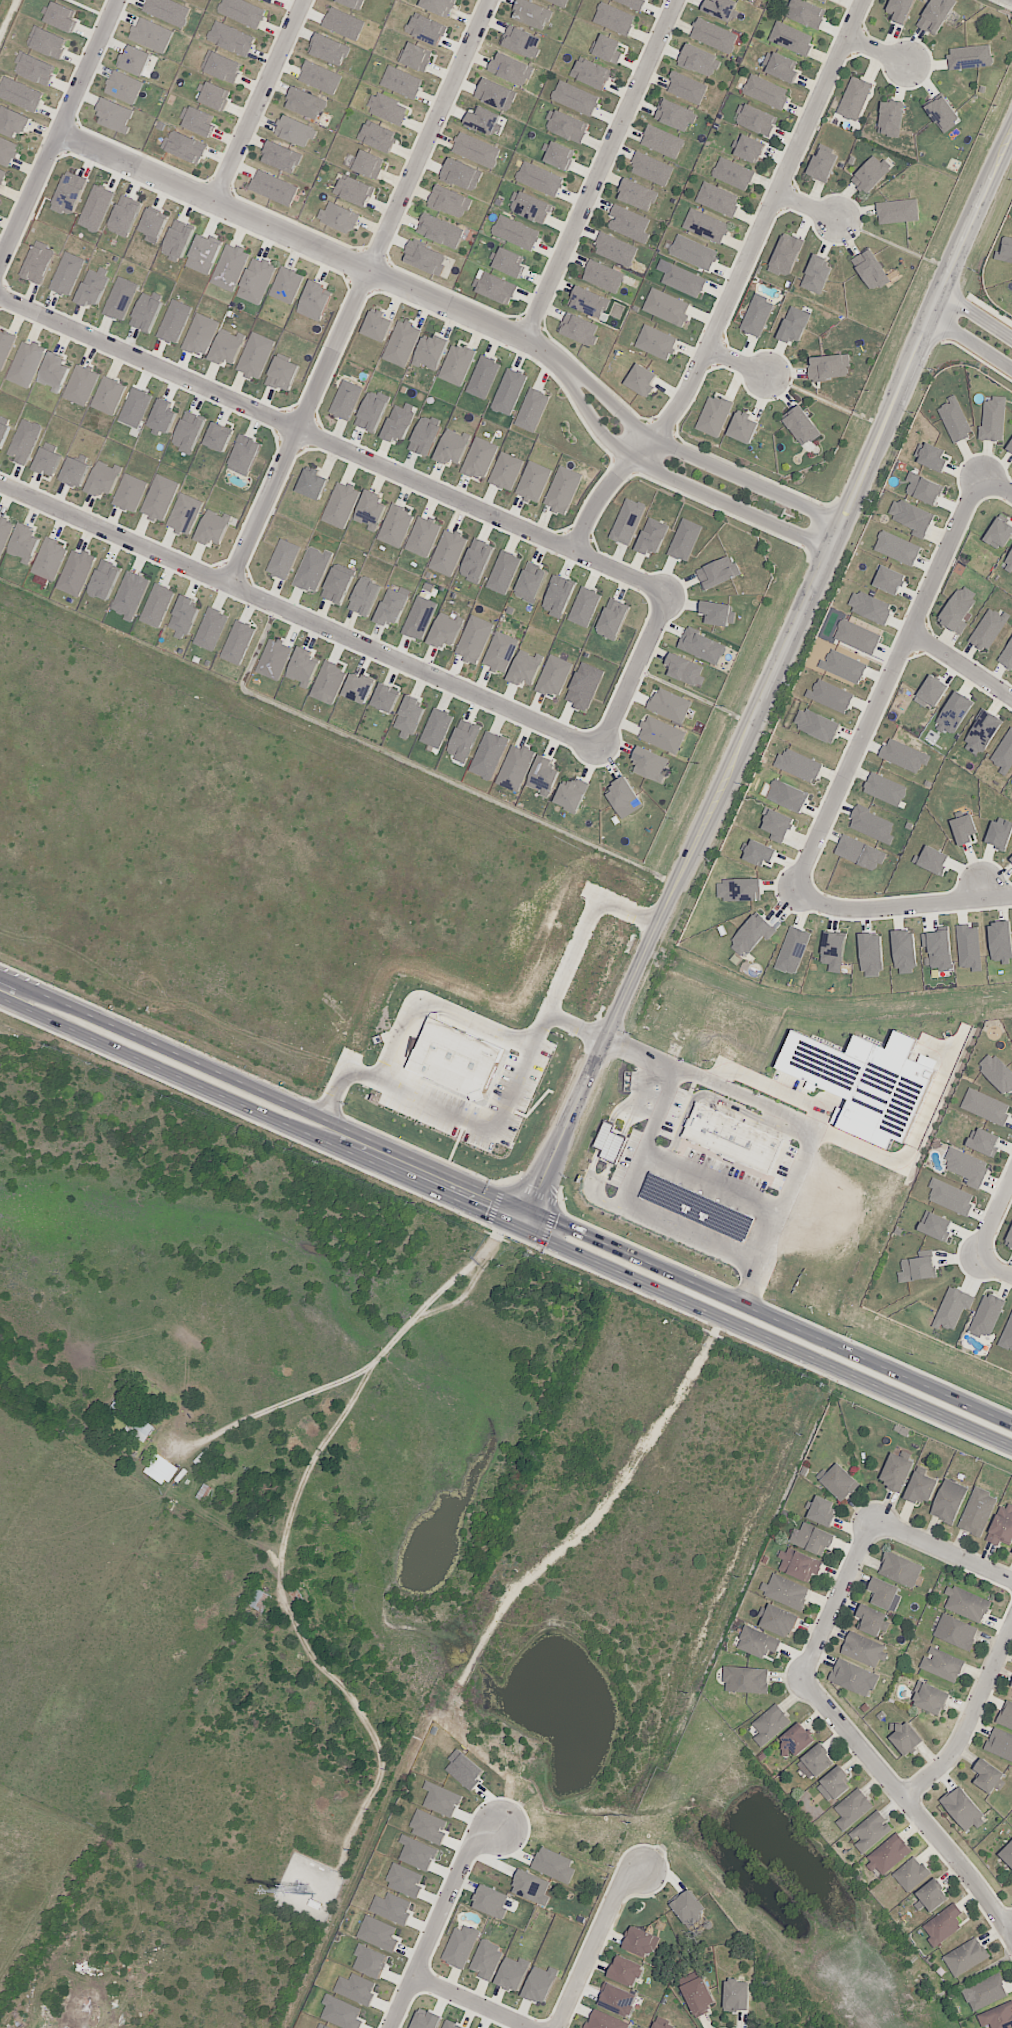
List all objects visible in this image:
building: (270, 0)
building: (827, 0)
building: (560, 2)
building: (352, 3)
building: (632, 3)
building: (438, 6)
building: (721, 8)
building: (167, 10)
building: (900, 10)
building: (242, 12)
building: (531, 13)
building: (806, 13)
building: (936, 15)
building: (60, 16)
building: (614, 18)
road: (9, 21)
building: (343, 23)
building: (426, 29)
building: (151, 34)
building: (714, 35)
building: (231, 38)
building: (791, 38)
building: (521, 41)
building: (47, 42)
building: (607, 48)
building: (328, 49)
road: (877, 51)
building: (416, 56)
building: (970, 57)
building: (134, 59)
building: (699, 61)
building: (221, 66)
building: (780, 66)
building: (34, 68)
building: (510, 69)
building: (591, 73)
building: (320, 77)
building: (401, 82)
building: (124, 86)
building: (686, 87)
building: (766, 91)
building: (20, 94)
building: (496, 94)
building: (214, 95)
building: (575, 98)
building: (854, 98)
road: (256, 100)
building: (305, 103)
building: (388, 108)
building: (943, 113)
building: (675, 114)
building: (114, 115)
building: (483, 118)
building: (890, 118)
building: (755, 119)
building: (198, 121)
building: (13, 122)
building: (566, 126)
building: (296, 131)
road: (59, 132)
building: (378, 136)
building: (662, 141)
building: (184, 146)
building: (476, 149)
building: (750, 149)
building: (7, 150)
building: (558, 155)
building: (281, 156)
building: (367, 164)
building: (822, 165)
building: (651, 168)
road: (600, 169)
building: (733, 173)
building: (461, 174)
building: (871, 174)
building: (2, 175)
building: (539, 178)
building: (273, 188)
building: (354, 190)
building: (70, 193)
building: (637, 194)
building: (718, 199)
building: (450, 201)
building: (530, 207)
road: (806, 207)
building: (96, 208)
building: (897, 211)
building: (124, 216)
building: (339, 217)
building: (153, 223)
building: (629, 223)
building: (706, 226)
building: (440, 230)
building: (515, 232)
building: (178, 240)
road: (317, 248)
building: (615, 249)
building: (1005, 250)
building: (693, 252)
building: (204, 254)
building: (786, 254)
building: (425, 257)
building: (507, 262)
building: (38, 263)
building: (230, 267)
building: (870, 269)
building: (67, 273)
building: (816, 274)
building: (603, 276)
building: (681, 279)
building: (256, 280)
building: (287, 285)
road: (733, 285)
building: (93, 286)
building: (492, 287)
road: (362, 292)
building: (120, 298)
building: (314, 300)
building: (588, 302)
building: (667, 307)
building: (146, 312)
building: (757, 315)
building: (174, 321)
building: (794, 325)
building: (377, 326)
road: (974, 328)
building: (578, 329)
building: (201, 334)
building: (656, 342)
building: (401, 343)
building: (227, 347)
building: (5, 348)
building: (431, 352)
building: (256, 355)
road: (736, 363)
building: (26, 364)
building: (456, 364)
building: (828, 367)
building: (54, 371)
building: (283, 373)
building: (483, 377)
building: (641, 380)
building: (81, 385)
building: (508, 392)
building: (109, 396)
building: (346, 400)
building: (135, 408)
building: (532, 410)
building: (372, 411)
building: (714, 415)
building: (163, 417)
building: (954, 419)
building: (993, 419)
building: (399, 422)
building: (801, 425)
building: (743, 427)
building: (189, 432)
building: (3, 433)
building: (425, 435)
building: (218, 437)
building: (24, 441)
road: (334, 443)
building: (452, 447)
building: (1009, 447)
building: (244, 455)
building: (931, 456)
building: (479, 458)
road: (695, 460)
building: (47, 461)
building: (506, 471)
building: (75, 472)
building: (103, 478)
building: (533, 481)
road: (995, 481)
road: (678, 482)
building: (313, 484)
building: (923, 488)
building: (563, 490)
building: (130, 493)
building: (160, 497)
building: (340, 505)
building: (370, 509)
building: (184, 514)
building: (627, 521)
building: (396, 526)
building: (213, 527)
building: (4, 533)
building: (999, 533)
building: (423, 536)
building: (652, 536)
building: (684, 539)
building: (24, 543)
building: (897, 548)
building: (448, 552)
building: (49, 559)
building: (283, 559)
building: (476, 560)
building: (1009, 563)
building: (313, 569)
building: (75, 572)
building: (503, 572)
building: (717, 572)
building: (104, 580)
building: (889, 580)
building: (531, 583)
building: (337, 585)
building: (130, 595)
building: (365, 596)
building: (558, 596)
building: (157, 605)
building: (392, 606)
building: (584, 606)
building: (870, 607)
building: (958, 609)
building: (718, 613)
road: (300, 615)
building: (184, 617)
building: (419, 618)
building: (612, 619)
building: (211, 629)
building: (988, 629)
building: (445, 630)
building: (857, 637)
building: (474, 639)
building: (238, 642)
building: (702, 646)
building: (500, 652)
building: (1007, 655)
building: (274, 659)
road: (959, 664)
building: (843, 666)
building: (303, 667)
building: (525, 668)
road: (634, 669)
building: (685, 670)
building: (554, 676)
road: (766, 678)
road: (883, 680)
building: (328, 683)
building: (584, 686)
building: (358, 687)
building: (931, 691)
building: (830, 696)
building: (385, 698)
building: (669, 705)
building: (954, 713)
building: (409, 717)
building: (816, 724)
building: (437, 728)
building: (981, 733)
building: (661, 734)
building: (463, 740)
building: (1003, 753)
building: (489, 755)
building: (903, 755)
building: (651, 764)
building: (798, 765)
building: (516, 767)
building: (543, 776)
building: (885, 789)
building: (572, 795)
building: (787, 795)
building: (623, 797)
building: (872, 824)
building: (777, 825)
building: (963, 828)
building: (999, 834)
building: (759, 853)
building: (859, 853)
building: (1011, 859)
building: (932, 860)
building: (738, 889)
road: (898, 910)
building: (752, 935)
road: (587, 937)
building: (1000, 941)
building: (969, 947)
building: (938, 949)
building: (793, 950)
building: (833, 951)
building: (904, 952)
building: (871, 955)
road: (441, 1009)
building: (997, 1073)
building: (863, 1082)
building: (986, 1106)
road: (774, 1108)
road: (478, 1126)
building: (733, 1138)
building: (983, 1141)
building: (609, 1142)
building: (967, 1166)
road: (712, 1182)
building: (950, 1197)
road: (625, 1202)
building: (698, 1208)
gas station: (698, 1208)
road: (504, 1213)
road: (993, 1216)
traffic signals: (525, 1223)
building: (935, 1225)
building: (1010, 1237)
road: (993, 1266)
building: (916, 1268)
road: (752, 1288)
building: (952, 1307)
building: (986, 1315)
building: (1007, 1334)
road: (282, 1402)
building: (133, 1421)
building: (159, 1468)
building: (895, 1469)
building: (838, 1482)
building: (922, 1489)
building: (949, 1501)
road: (293, 1507)
building: (820, 1511)
building: (977, 1513)
road: (596, 1515)
building: (1000, 1527)
building: (811, 1540)
road: (943, 1553)
building: (799, 1564)
building: (899, 1570)
building: (786, 1591)
building: (883, 1593)
building: (259, 1599)
road: (839, 1601)
building: (965, 1604)
building: (869, 1619)
building: (778, 1620)
building: (955, 1633)
building: (756, 1644)
building: (862, 1649)
building: (944, 1665)
building: (853, 1678)
building: (748, 1680)
building: (1011, 1683)
building: (1011, 1685)
building: (928, 1699)
building: (1006, 1716)
road: (969, 1719)
building: (770, 1725)
building: (904, 1739)
building: (795, 1740)
building: (1000, 1745)
building: (816, 1762)
building: (464, 1769)
building: (987, 1776)
building: (835, 1783)
building: (441, 1799)
road: (911, 1807)
building: (854, 1809)
building: (960, 1809)
building: (429, 1826)
building: (870, 1832)
building: (1007, 1851)
building: (417, 1853)
building: (891, 1854)
building: (554, 1865)
building: (911, 1874)
building: (405, 1880)
building: (531, 1887)
building: (933, 1896)
building: (491, 1901)
building: (683, 1903)
building: (392, 1908)
road: (442, 1918)
building: (944, 1926)
road: (1009, 1928)
building: (378, 1933)
road: (591, 1941)
building: (637, 1942)
building: (460, 1946)
building: (966, 1957)
building: (486, 1959)
building: (370, 1961)
building: (623, 1969)
building: (513, 1973)
building: (540, 1984)
building: (356, 1988)
building: (985, 1992)
building: (695, 1995)
building: (734, 1995)
building: (618, 1997)
road: (479, 2003)
building: (342, 2012)
building: (998, 2016)
building: (425, 2020)
building: (603, 2020)
building: (452, 2025)
building: (658, 2025)
building: (323, 2026)

